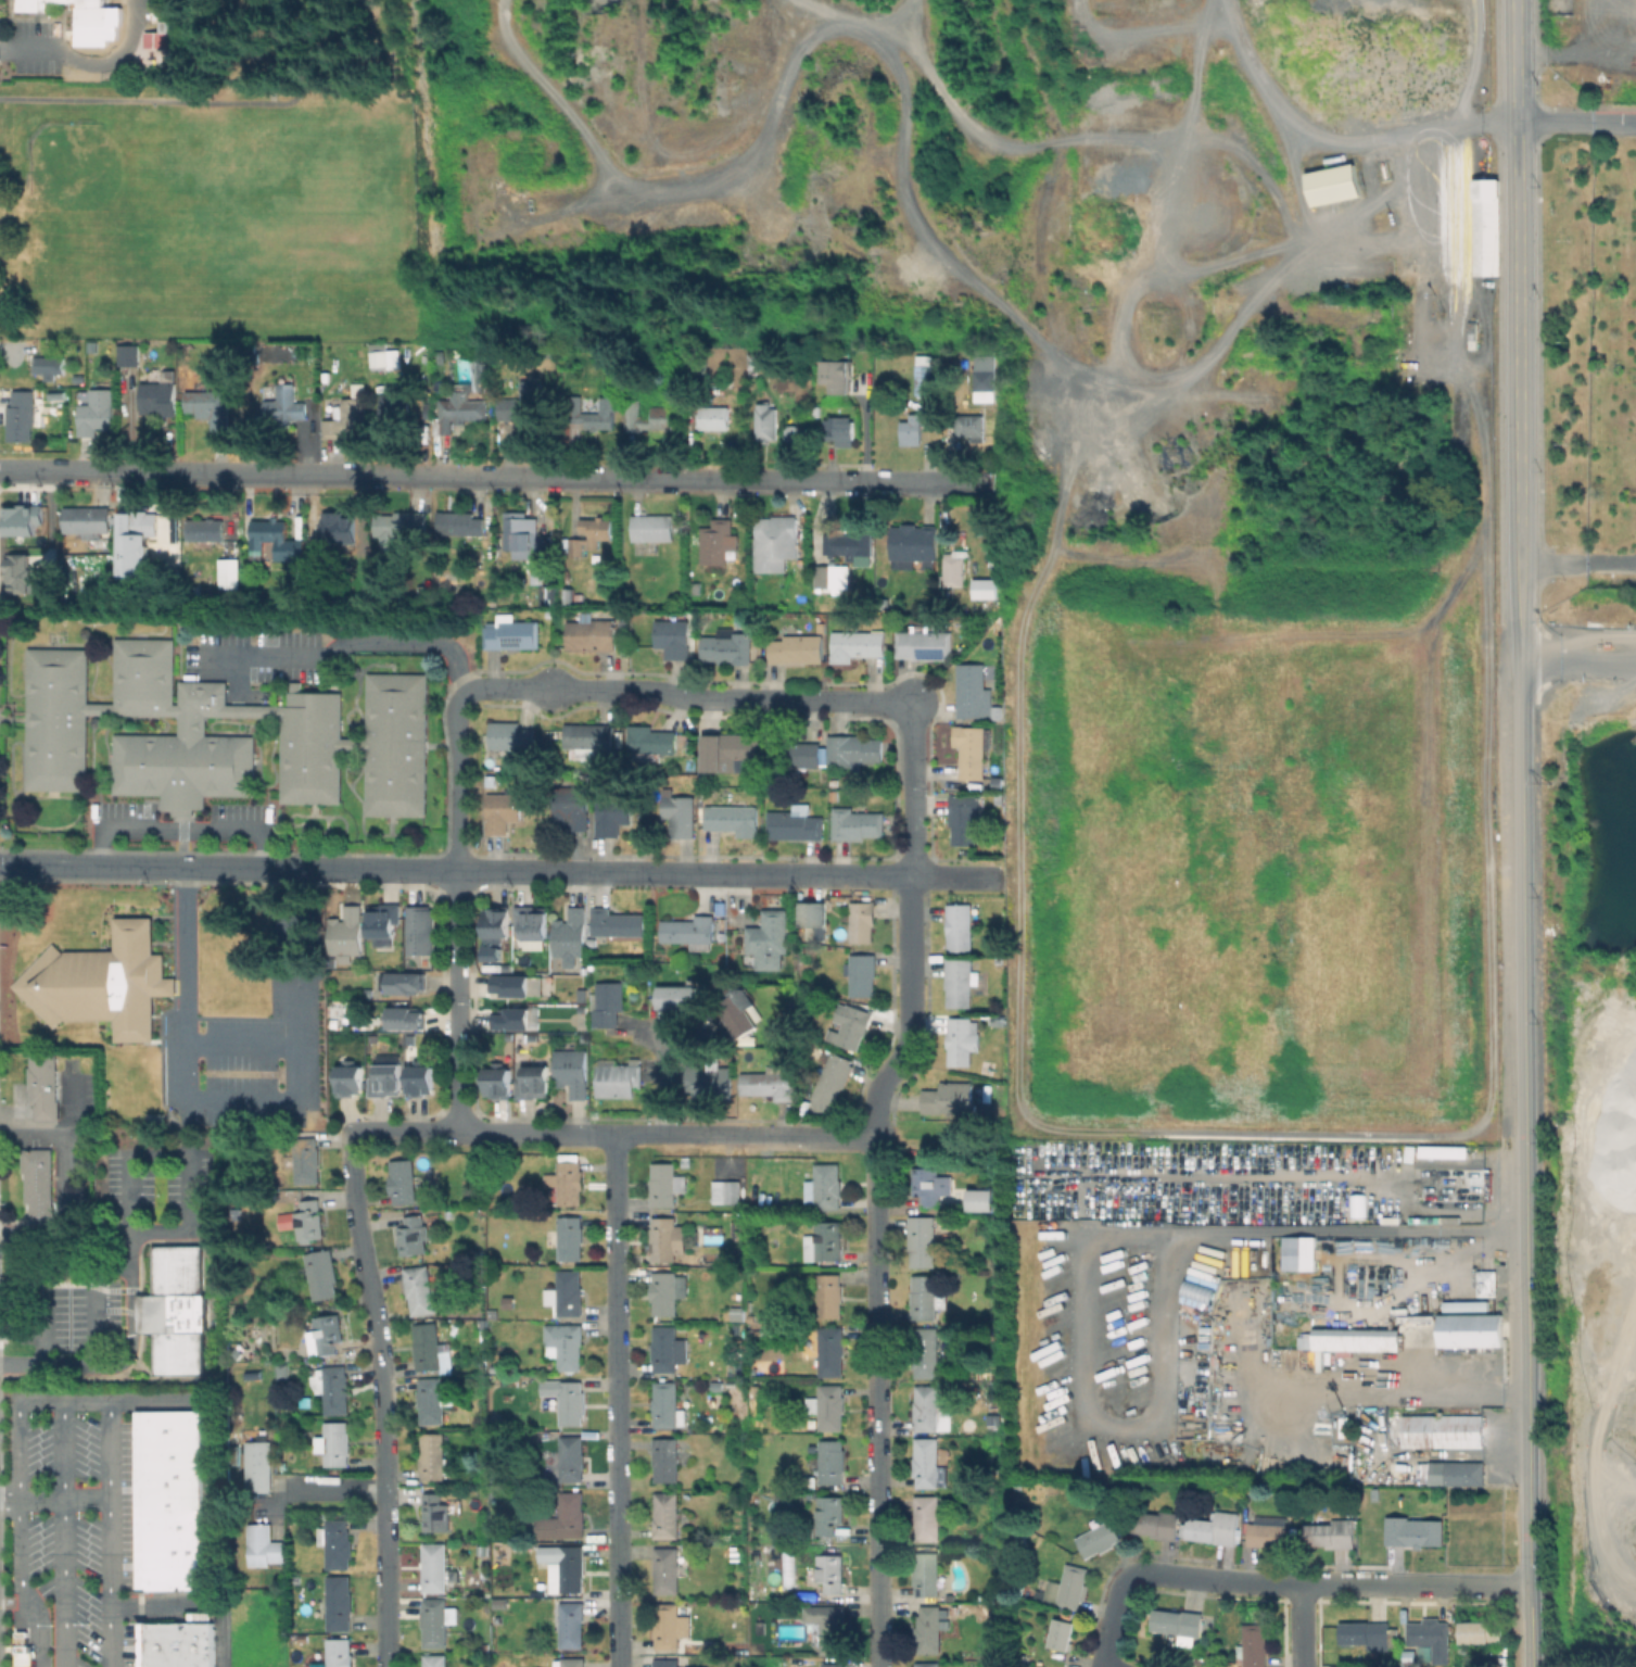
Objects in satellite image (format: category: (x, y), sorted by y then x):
building: (77, 10)
road: (295, 36)
building: (160, 37)
quarry: (1587, 54)
road: (90, 62)
road: (161, 101)
road: (1576, 121)
road: (1413, 128)
park: (223, 184)
building: (1334, 184)
building: (1487, 226)
building: (1428, 312)
road: (1518, 313)
building: (92, 348)
building: (129, 354)
building: (286, 354)
building: (441, 356)
building: (384, 357)
building: (762, 359)
building: (705, 365)
building: (48, 367)
building: (987, 371)
building: (924, 375)
building: (837, 377)
rooftop solar panel: (925, 378)
building: (158, 396)
building: (534, 402)
building: (460, 404)
building: (393, 405)
building: (988, 406)
building: (246, 407)
building: (211, 408)
building: (284, 408)
building: (507, 408)
building: (575, 412)
building: (816, 412)
building: (96, 413)
building: (22, 415)
building: (348, 415)
building: (649, 416)
building: (712, 417)
building: (765, 420)
building: (971, 425)
building: (838, 428)
building: (911, 430)
building: (792, 432)
road: (495, 475)
building: (20, 518)
building: (87, 520)
building: (144, 523)
building: (459, 525)
building: (339, 528)
building: (401, 528)
building: (652, 528)
building: (203, 531)
building: (523, 532)
building: (592, 534)
building: (718, 541)
building: (775, 542)
building: (277, 544)
building: (914, 544)
building: (851, 545)
road: (1578, 563)
building: (954, 569)
building: (18, 573)
building: (229, 573)
building: (832, 576)
building: (537, 577)
building: (446, 583)
building: (695, 588)
building: (985, 589)
building: (422, 591)
building: (567, 596)
building: (578, 597)
building: (511, 632)
building: (592, 634)
building: (673, 637)
rooftop solar panel: (512, 639)
road: (352, 641)
building: (924, 643)
building: (857, 645)
building: (728, 646)
building: (796, 648)
rooftop solar panel: (930, 652)
road: (599, 687)
building: (975, 694)
building: (59, 720)
building: (313, 727)
building: (511, 736)
building: (591, 737)
building: (651, 740)
building: (546, 742)
building: (972, 749)
building: (853, 750)
building: (731, 753)
building: (792, 754)
building: (585, 774)
building: (998, 780)
building: (492, 781)
building: (834, 782)
building: (1000, 796)
building: (570, 807)
building: (503, 812)
building: (679, 813)
building: (611, 814)
building: (965, 818)
building: (733, 819)
building: (857, 823)
building: (794, 825)
road: (190, 830)
landfill: (1250, 861)
road: (292, 869)
road: (795, 874)
building: (813, 913)
building: (384, 920)
building: (862, 921)
building: (496, 922)
building: (532, 923)
building: (617, 923)
road: (912, 924)
building: (960, 926)
building: (420, 931)
building: (689, 931)
building: (347, 933)
building: (571, 934)
building: (770, 938)
building: (807, 949)
building: (507, 969)
building: (861, 974)
building: (960, 981)
building: (103, 982)
building: (405, 984)
building: (519, 986)
building: (582, 995)
building: (677, 997)
road: (459, 1001)
building: (609, 1003)
building: (738, 1014)
building: (407, 1019)
building: (512, 1022)
building: (997, 1023)
building: (786, 1024)
building: (850, 1025)
building: (961, 1040)
road: (245, 1047)
building: (573, 1072)
building: (421, 1077)
building: (351, 1079)
building: (618, 1079)
building: (386, 1082)
building: (832, 1082)
building: (498, 1083)
building: (709, 1083)
building: (768, 1084)
building: (45, 1085)
building: (535, 1085)
building: (987, 1093)
building: (948, 1096)
quarry: (1591, 1098)
road: (245, 1108)
building: (155, 1121)
road: (614, 1135)
road: (941, 1140)
road: (1526, 1147)
road: (196, 1153)
building: (306, 1160)
road: (61, 1180)
building: (403, 1180)
building: (568, 1182)
building: (39, 1184)
building: (663, 1184)
building: (1449, 1184)
building: (927, 1185)
building: (825, 1186)
building: (730, 1192)
building: (982, 1200)
building: (310, 1220)
building: (414, 1235)
building: (709, 1235)
building: (570, 1237)
building: (667, 1239)
building: (738, 1239)
building: (923, 1240)
building: (824, 1241)
building: (1296, 1253)
building: (321, 1274)
building: (1484, 1283)
building: (420, 1289)
building: (668, 1290)
building: (567, 1292)
building: (1194, 1293)
building: (829, 1296)
building: (926, 1297)
building: (507, 1301)
building: (176, 1309)
road: (1366, 1311)
building: (737, 1313)
road: (99, 1325)
road: (50, 1326)
building: (736, 1327)
building: (1467, 1329)
building: (326, 1335)
building: (1348, 1339)
building: (565, 1344)
building: (428, 1346)
building: (664, 1349)
building: (832, 1351)
building: (926, 1352)
road: (126, 1359)
building: (495, 1367)
building: (716, 1386)
building: (333, 1388)
building: (757, 1388)
road: (1347, 1388)
building: (507, 1397)
building: (435, 1399)
road: (386, 1400)
building: (566, 1400)
road: (617, 1401)
building: (304, 1402)
road: (879, 1403)
building: (668, 1405)
building: (828, 1406)
road: (206, 1407)
building: (926, 1407)
building: (1344, 1424)
building: (992, 1428)
building: (1444, 1431)
building: (337, 1443)
building: (233, 1454)
building: (434, 1456)
building: (572, 1458)
building: (665, 1458)
building: (832, 1461)
building: (928, 1463)
building: (258, 1464)
building: (1464, 1473)
building: (310, 1477)
road: (343, 1488)
building: (1375, 1492)
building: (167, 1500)
road: (54, 1502)
building: (828, 1512)
building: (436, 1513)
building: (324, 1514)
building: (667, 1515)
building: (927, 1517)
building: (565, 1518)
building: (1157, 1524)
building: (1216, 1528)
road: (109, 1531)
building: (1413, 1531)
road: (62, 1532)
building: (985, 1532)
building: (1331, 1533)
building: (1268, 1535)
road: (16, 1538)
building: (1019, 1538)
building: (1099, 1539)
building: (337, 1542)
building: (263, 1544)
building: (482, 1549)
building: (435, 1566)
building: (772, 1566)
building: (788, 1567)
building: (568, 1569)
building: (667, 1569)
building: (756, 1569)
building: (830, 1571)
rooftop solar panel: (918, 1571)
building: (927, 1574)
road: (1219, 1579)
road: (1467, 1583)
building: (1071, 1586)
rooftop solar panel: (917, 1594)
building: (340, 1602)
road: (192, 1604)
building: (497, 1619)
building: (437, 1621)
building: (569, 1622)
building: (1179, 1624)
road: (1301, 1625)
building: (667, 1626)
building: (827, 1627)
building: (929, 1628)
building: (1481, 1630)
road: (28, 1631)
building: (1062, 1633)
building: (1367, 1634)
building: (1431, 1637)
building: (21, 1641)
building: (174, 1644)
building: (1254, 1645)
building: (485, 1646)
building: (340, 1652)
building: (1410, 1653)
building: (435, 1659)
building: (570, 1662)
building: (667, 1663)
building: (834, 1664)
building: (927, 1664)
building: (1412, 1664)

